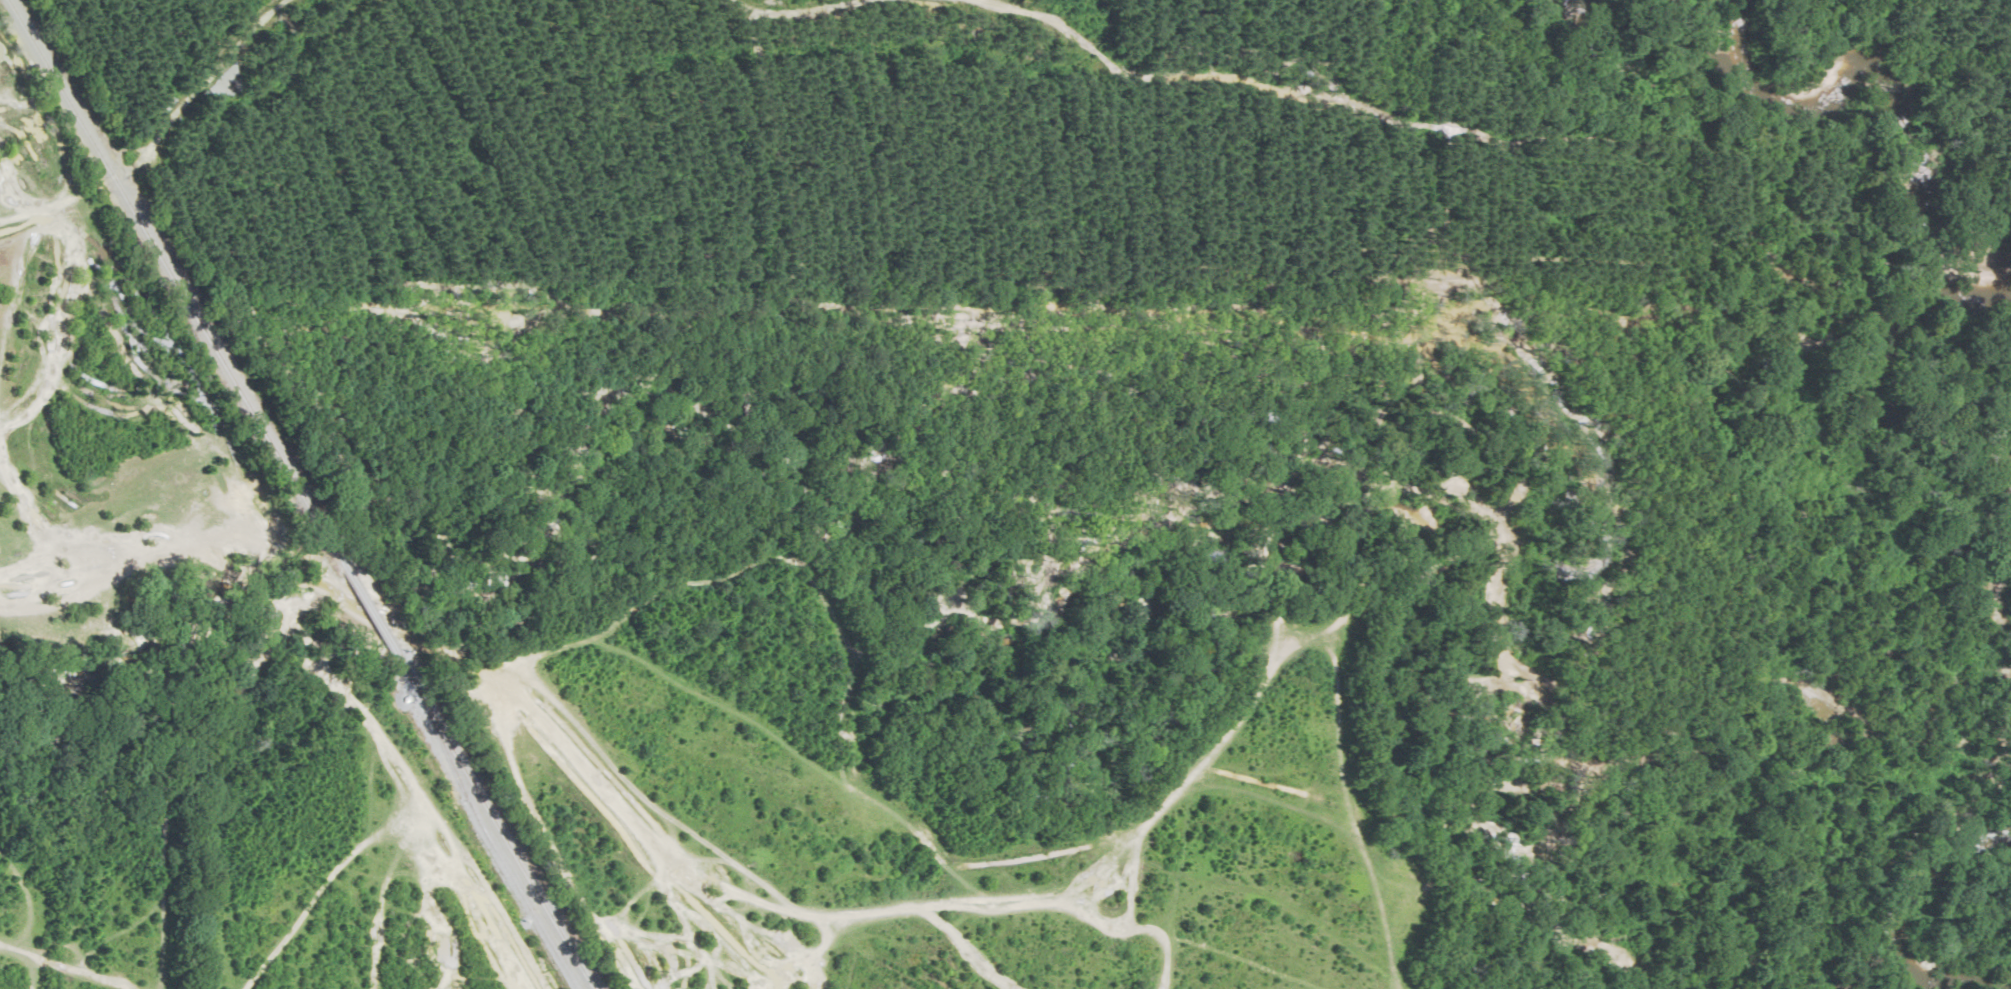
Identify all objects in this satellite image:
railway: (302, 494)
railway: (485, 835)

